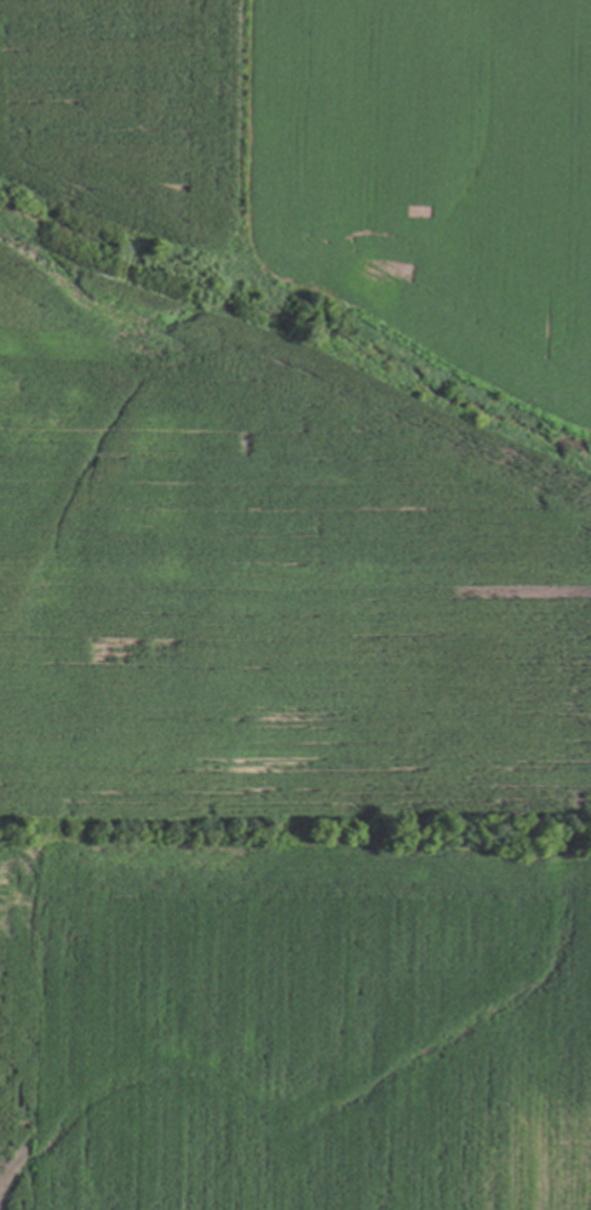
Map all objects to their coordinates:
crop: (295, 604)

